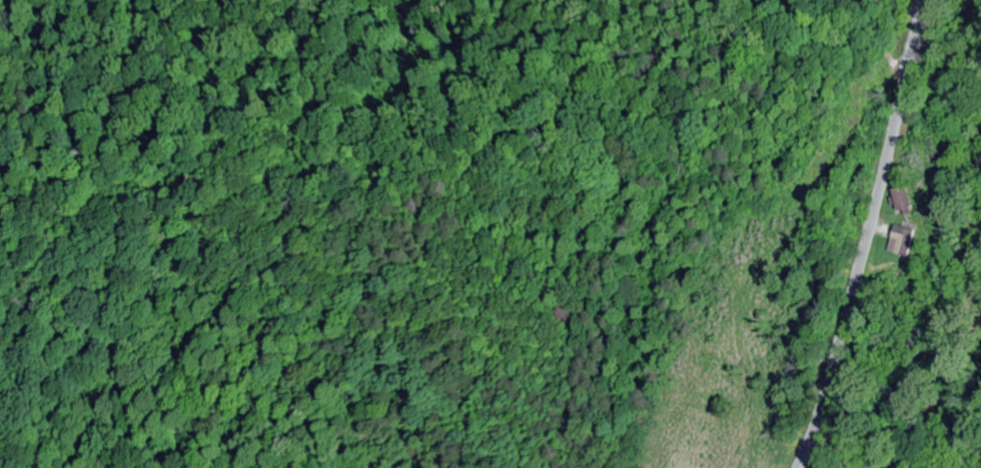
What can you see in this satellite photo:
road: (875, 61)
road: (911, 61)
building: (899, 199)
building: (902, 240)
road: (852, 297)

